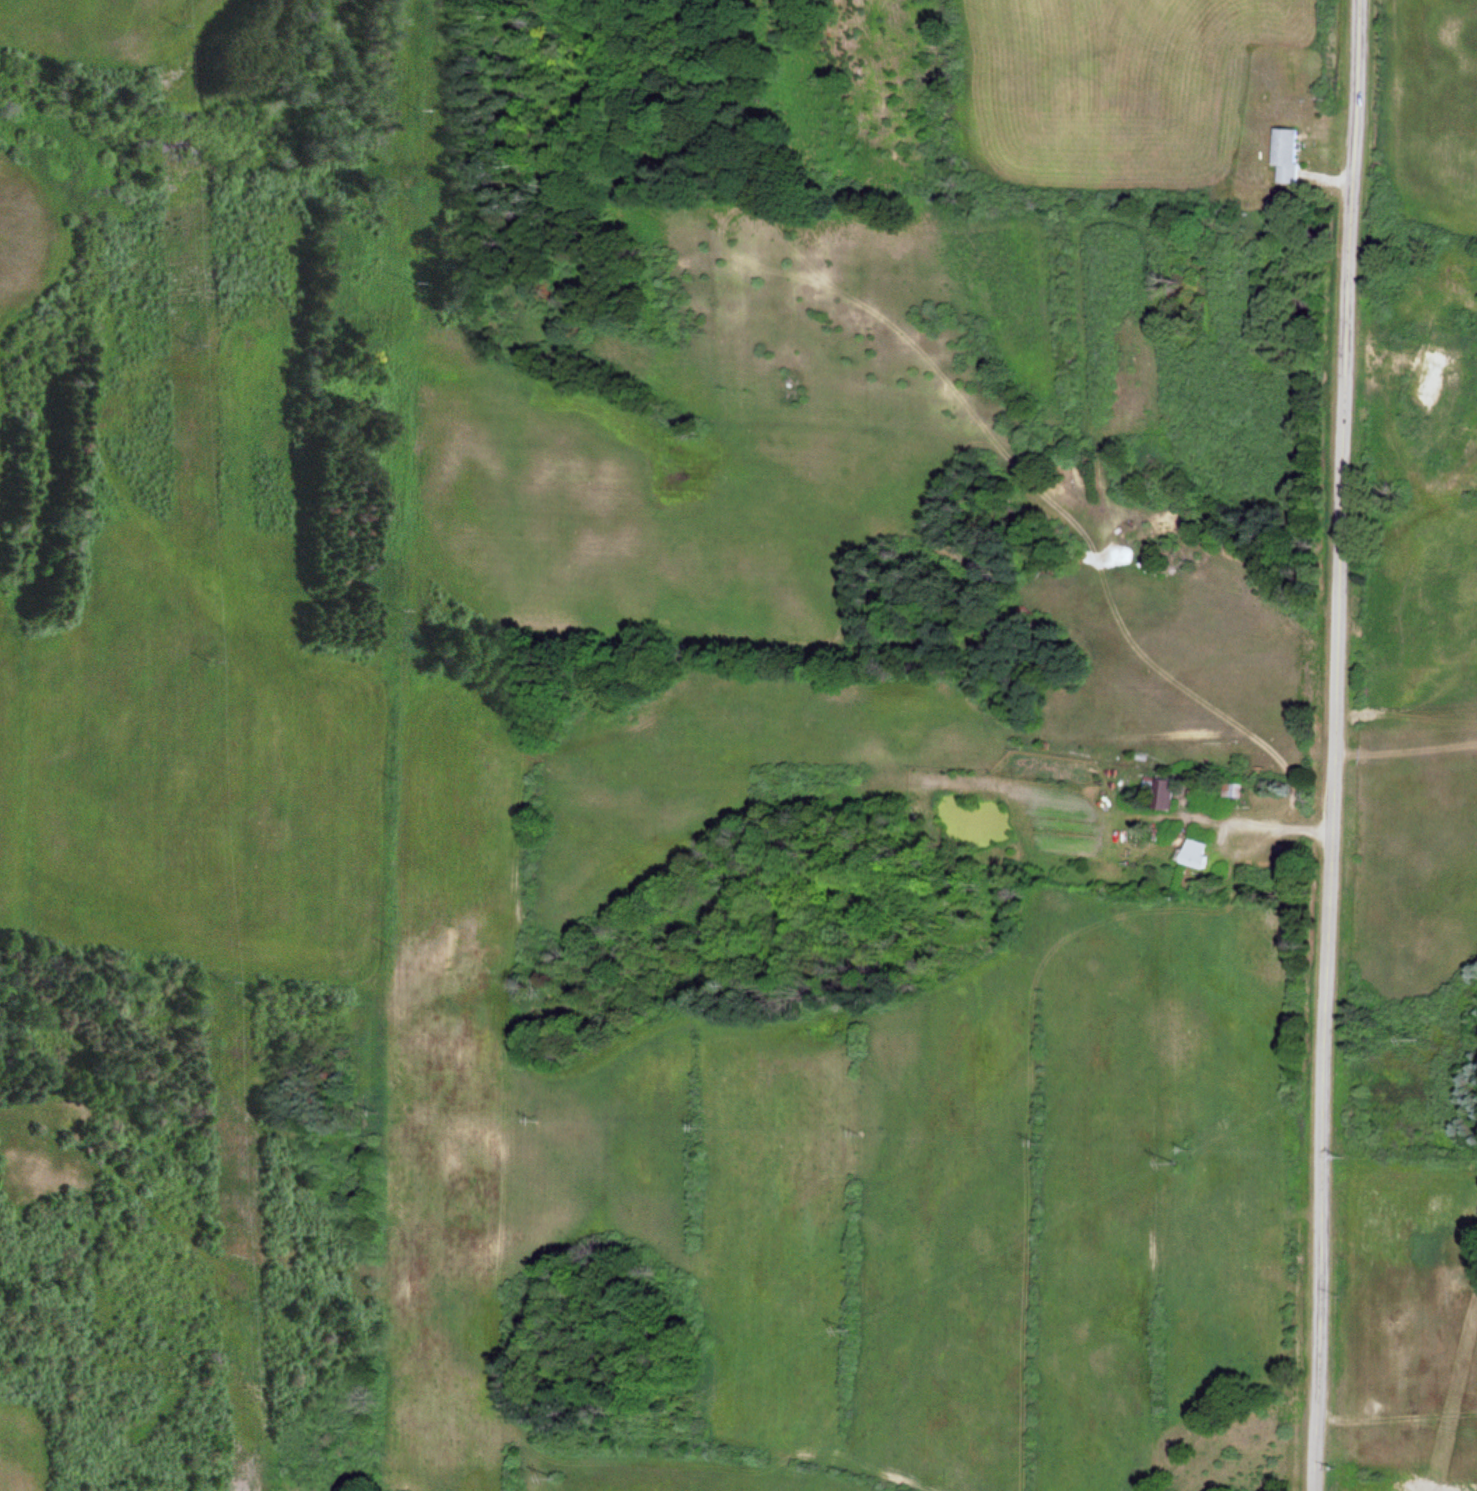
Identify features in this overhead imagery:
building: (1284, 154)
road: (1337, 745)
building: (1231, 791)
building: (1162, 794)
building: (1192, 853)

